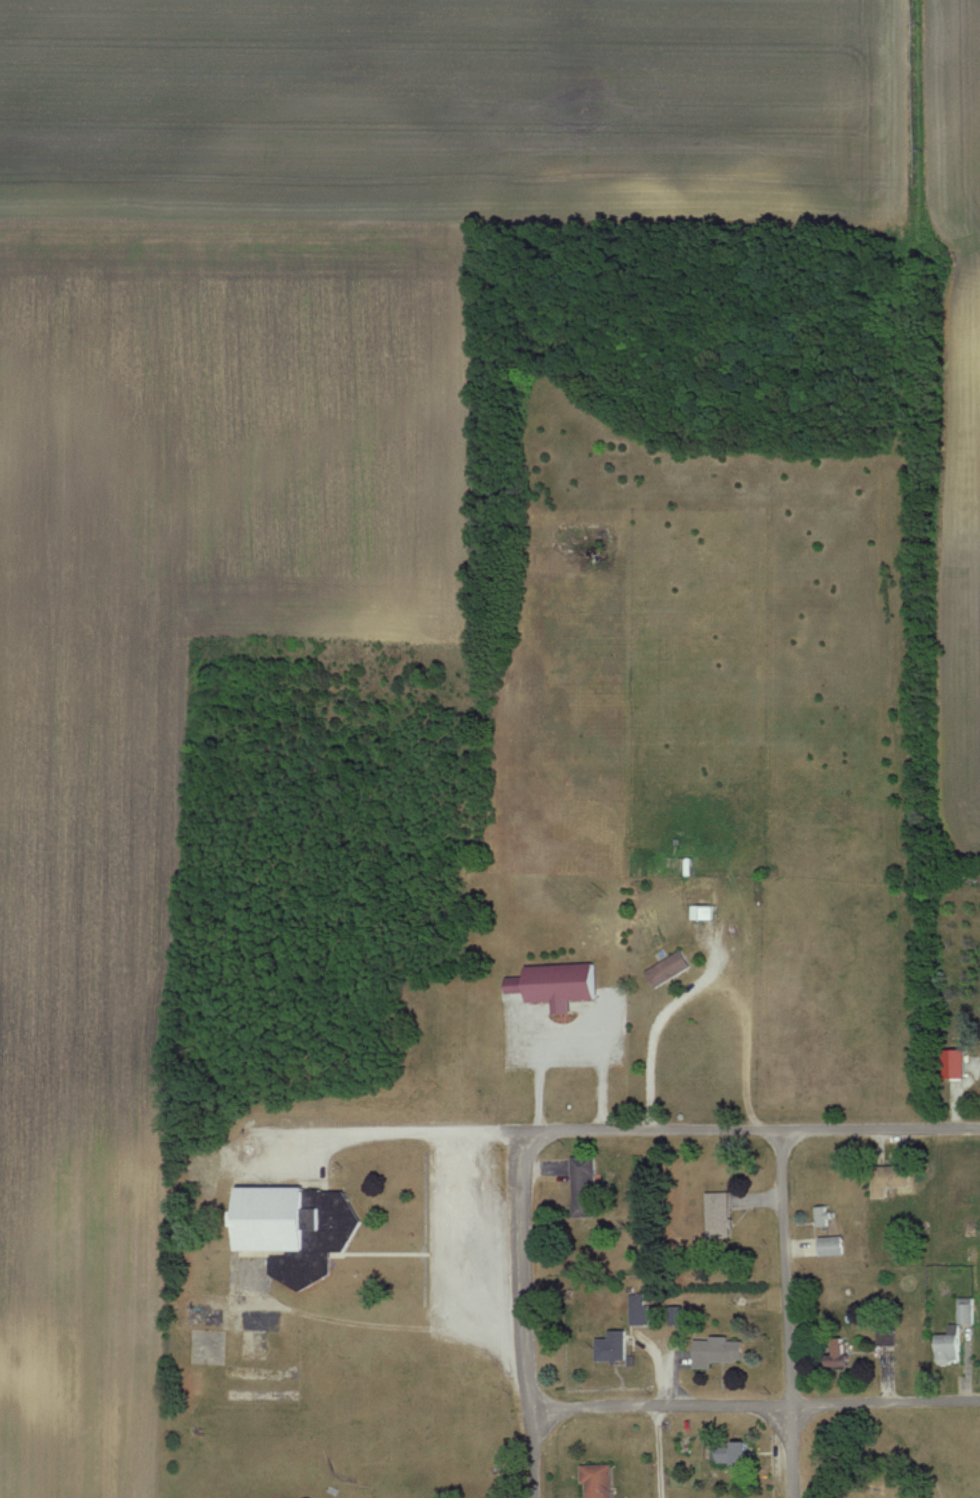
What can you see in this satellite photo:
building: (671, 968)
building: (560, 984)
road: (652, 1043)
road: (752, 1136)
building: (893, 1179)
building: (586, 1187)
building: (721, 1214)
building: (834, 1245)
road: (532, 1316)
building: (641, 1316)
road: (789, 1316)
building: (956, 1335)
building: (615, 1346)
building: (721, 1351)
building: (841, 1354)
road: (758, 1407)
road: (660, 1452)
building: (601, 1481)

